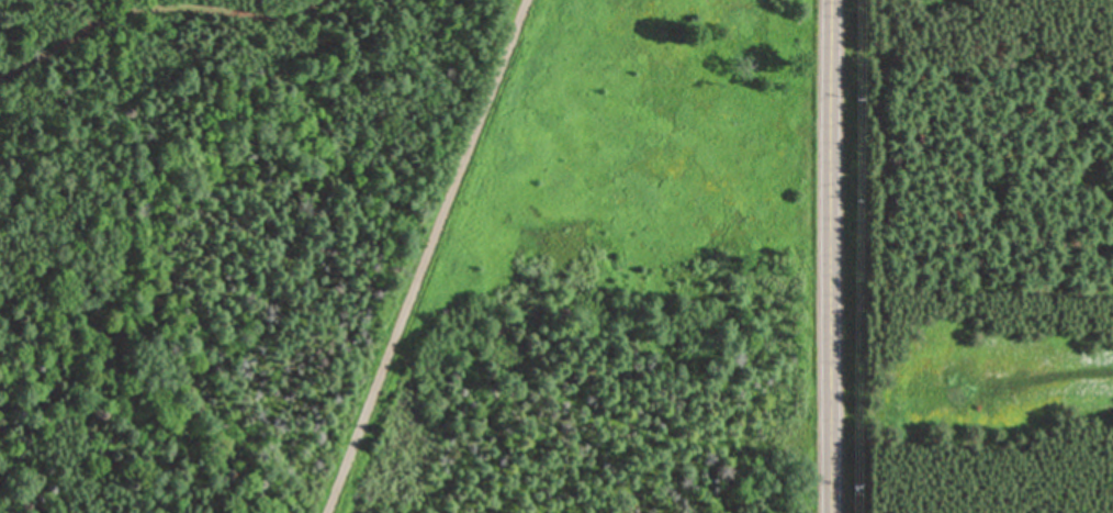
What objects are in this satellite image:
road: (147, 4)
road: (421, 256)
road: (830, 256)

